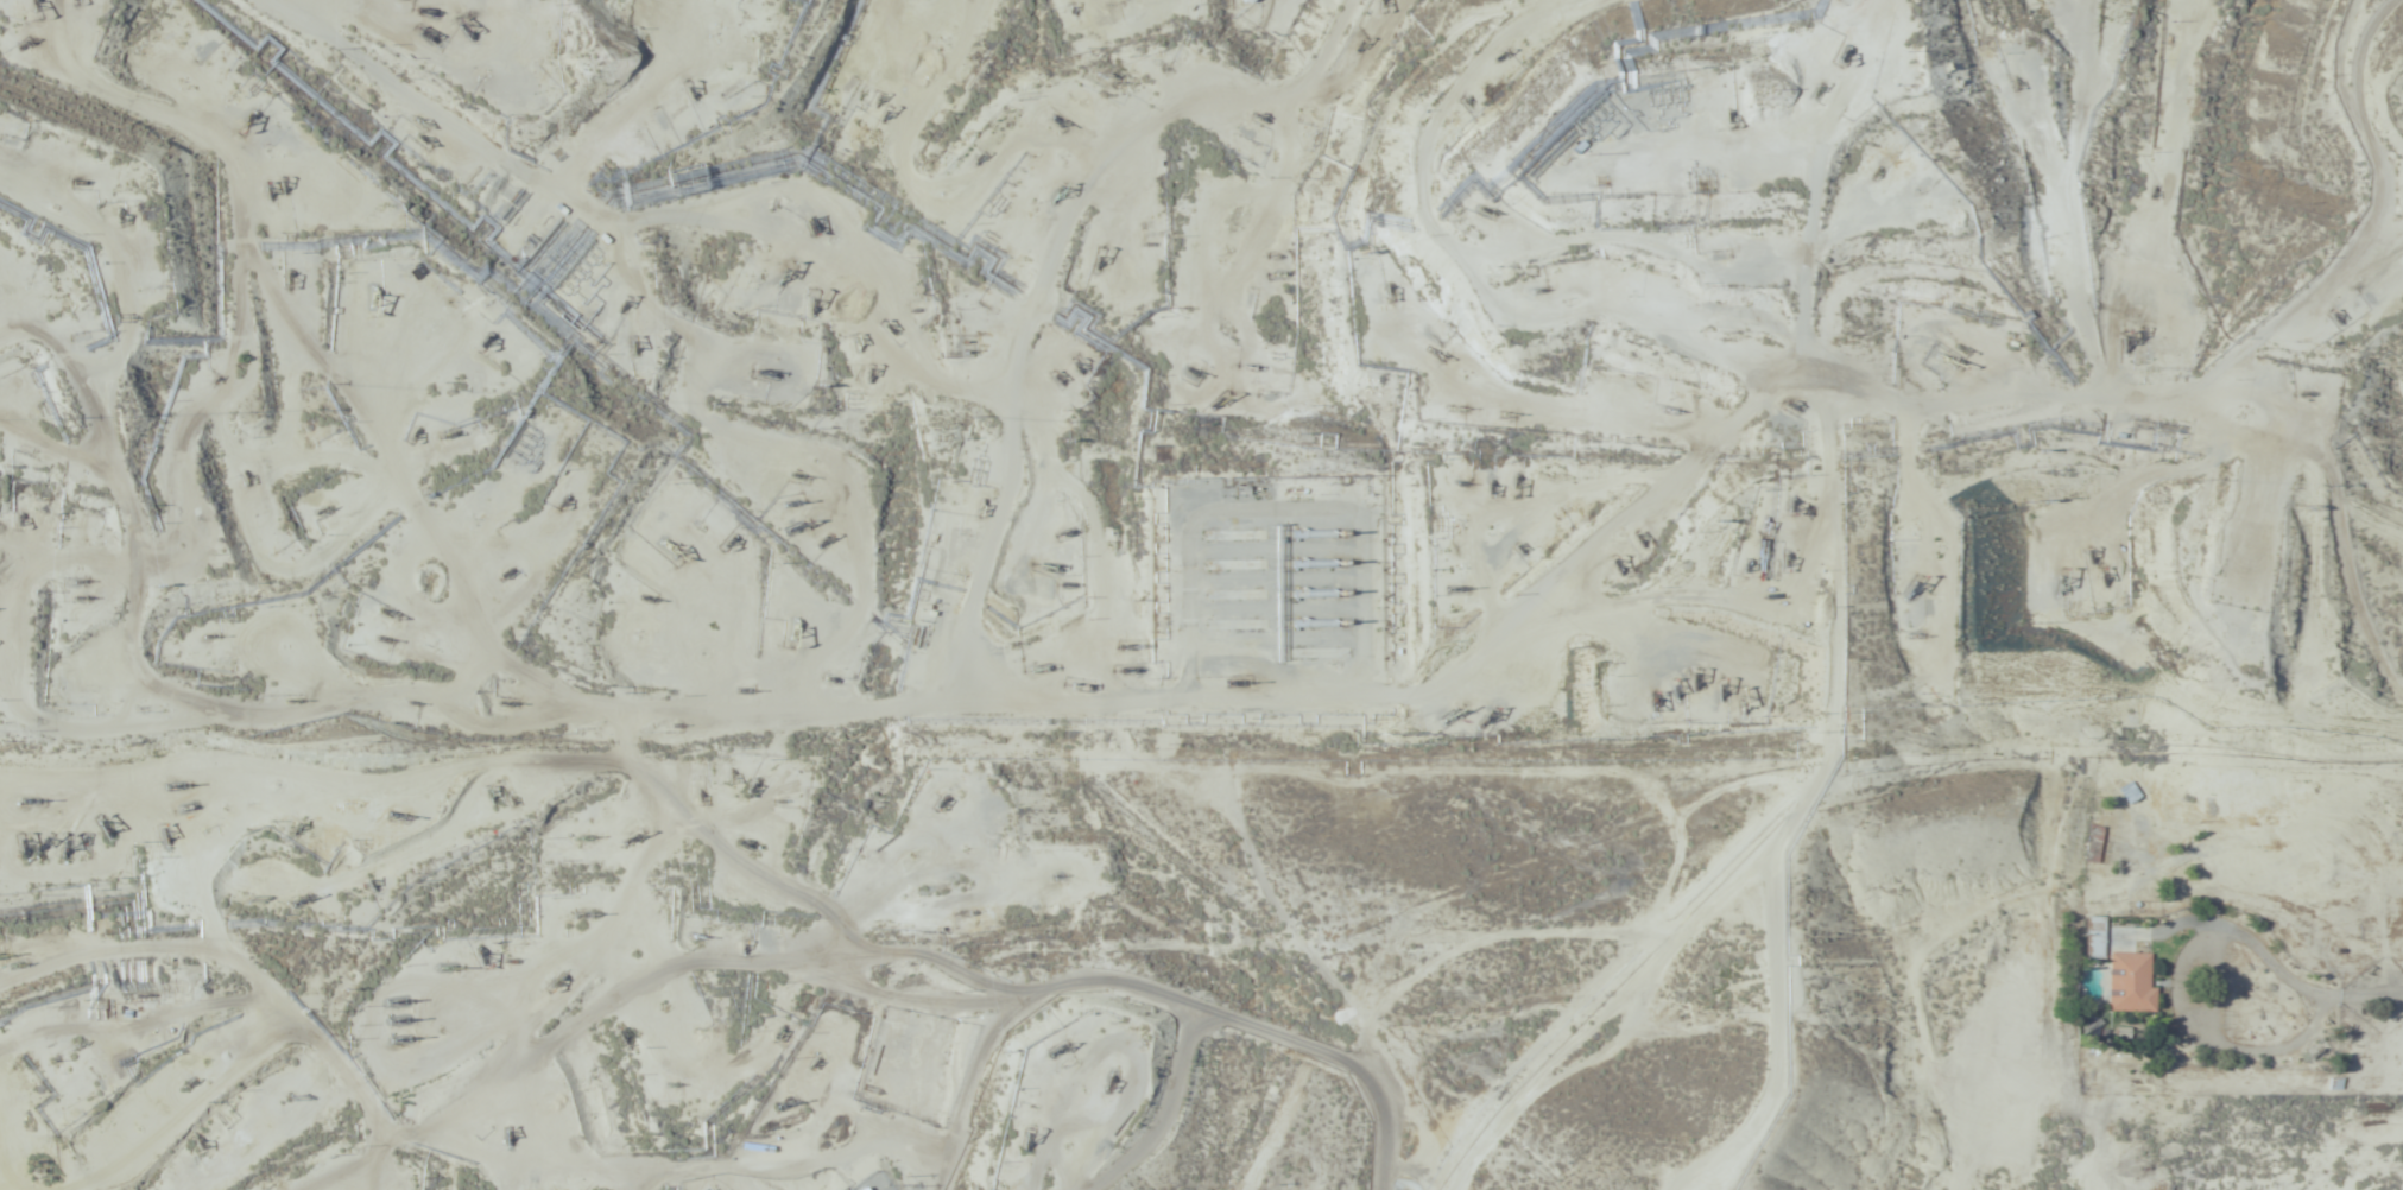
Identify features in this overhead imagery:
road: (2112, 762)
building: (2135, 793)
building: (2099, 843)
building: (2133, 982)
building: (916, 1028)
building: (403, 1044)
building: (584, 1114)

